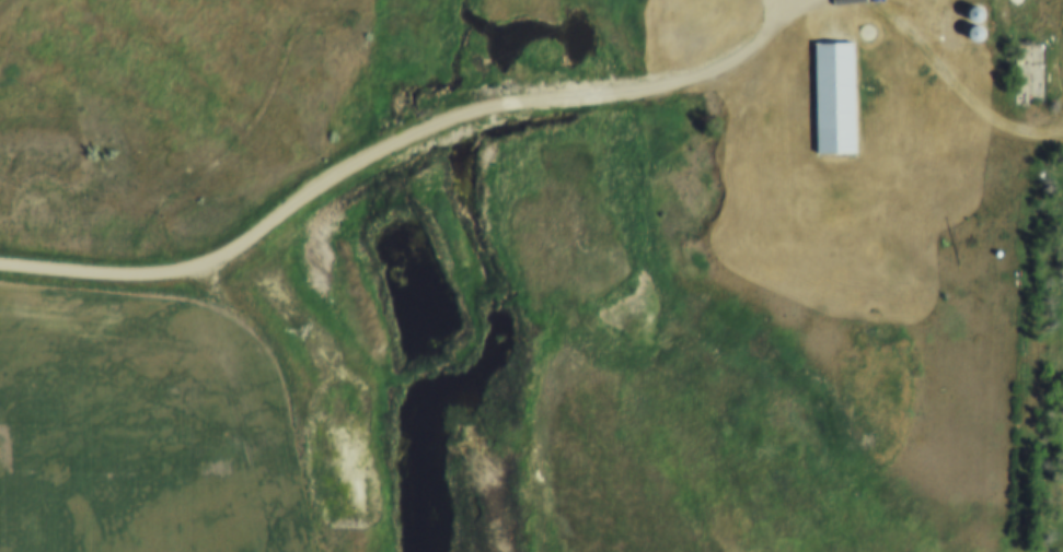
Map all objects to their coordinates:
building: (964, 19)
silo: (964, 19)
building: (966, 37)
silo: (966, 37)
building: (1028, 75)
building: (830, 101)
road: (404, 142)
road: (255, 409)

